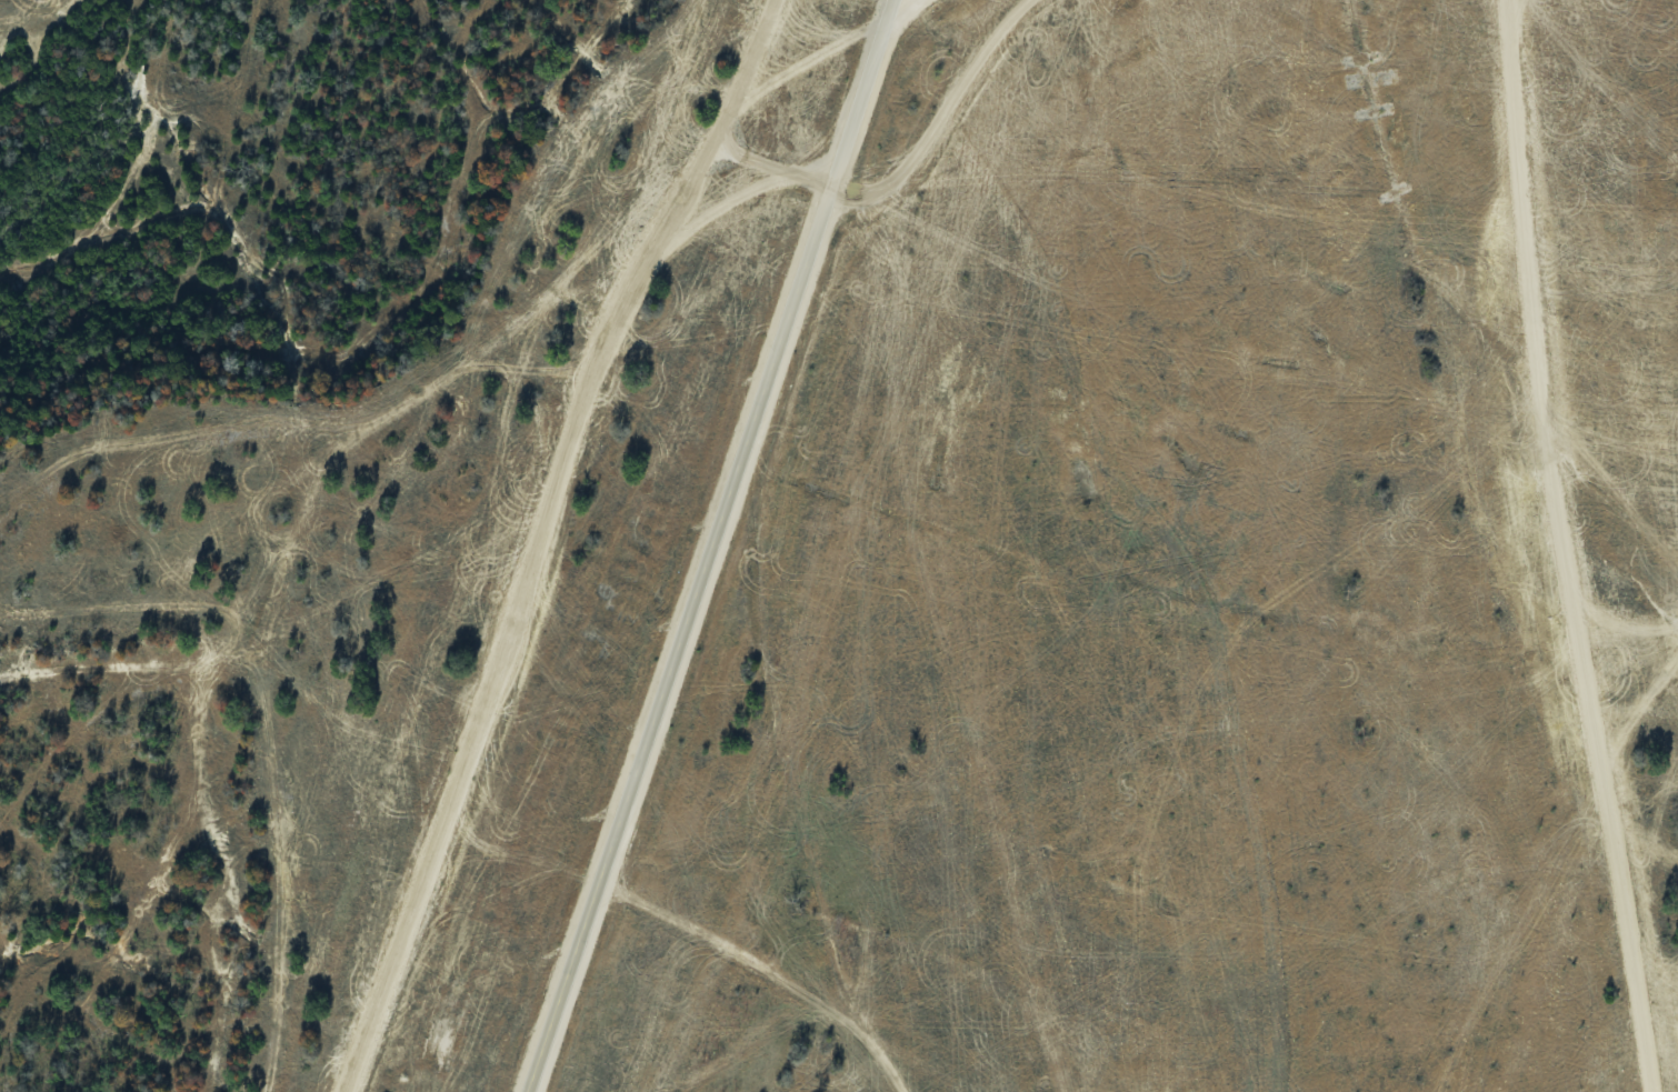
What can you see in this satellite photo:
road: (897, 8)
road: (903, 8)
road: (906, 173)
road: (549, 542)
road: (1566, 548)
road: (715, 554)

